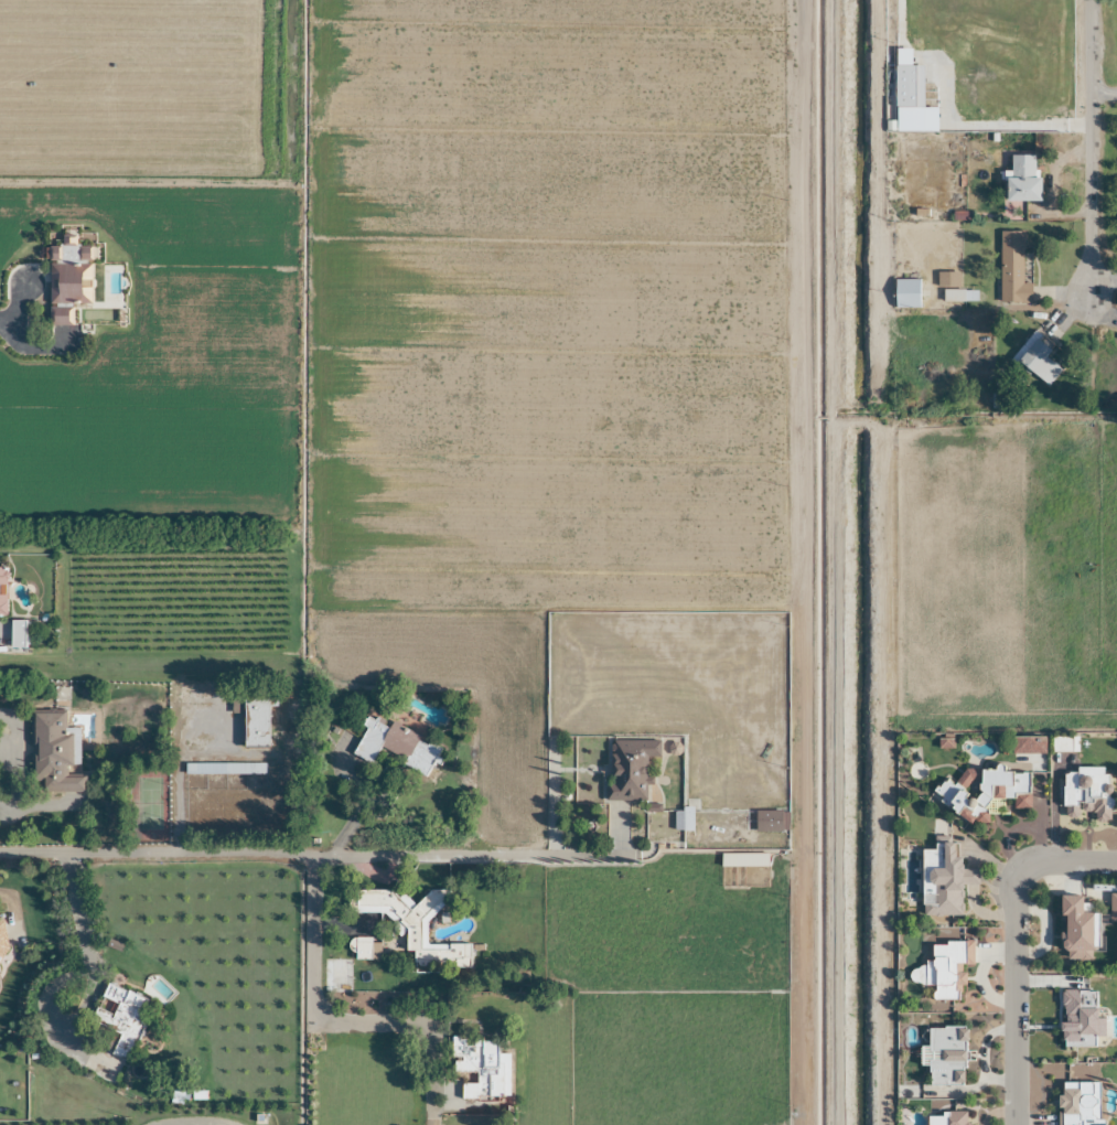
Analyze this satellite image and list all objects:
building: (907, 87)
road: (1104, 93)
road: (1092, 148)
building: (1021, 180)
building: (1011, 270)
building: (67, 280)
building: (905, 294)
building: (959, 296)
road: (18, 303)
building: (1035, 362)
building: (2, 593)
building: (255, 718)
building: (1061, 744)
building: (395, 746)
road: (3, 747)
building: (53, 754)
building: (629, 768)
building: (223, 769)
building: (1085, 792)
road: (353, 817)
building: (769, 821)
road: (155, 855)
road: (471, 856)
building: (743, 859)
road: (1068, 863)
building: (944, 877)
building: (415, 923)
building: (1076, 929)
building: (2, 941)
building: (365, 949)
building: (946, 968)
road: (96, 993)
road: (1013, 996)
building: (120, 1017)
road: (337, 1021)
building: (480, 1067)
building: (1080, 1103)
building: (948, 1118)

